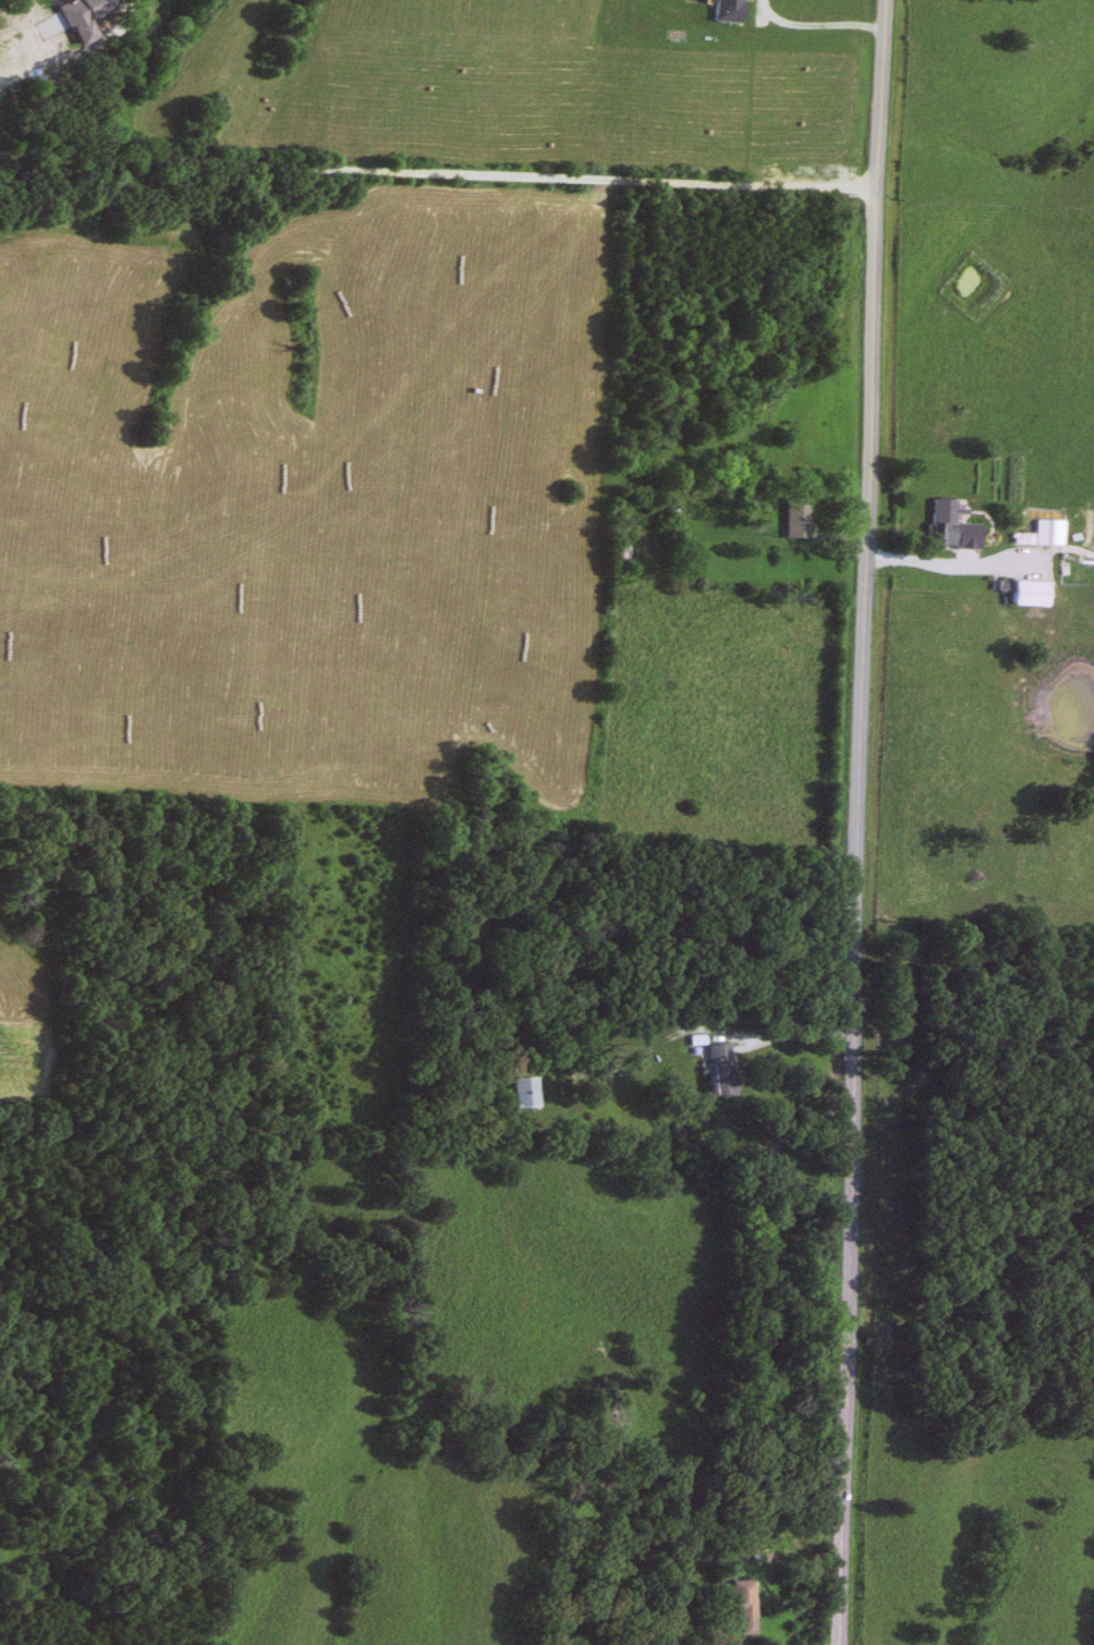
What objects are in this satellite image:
road: (53, 2)
building: (721, 11)
building: (71, 22)
road: (814, 33)
road: (439, 179)
building: (791, 519)
building: (938, 523)
building: (1043, 534)
road: (1018, 545)
road: (963, 562)
building: (1021, 594)
road: (856, 821)
road: (695, 1027)
building: (716, 1070)
building: (521, 1093)
building: (739, 1605)
road: (737, 1638)

